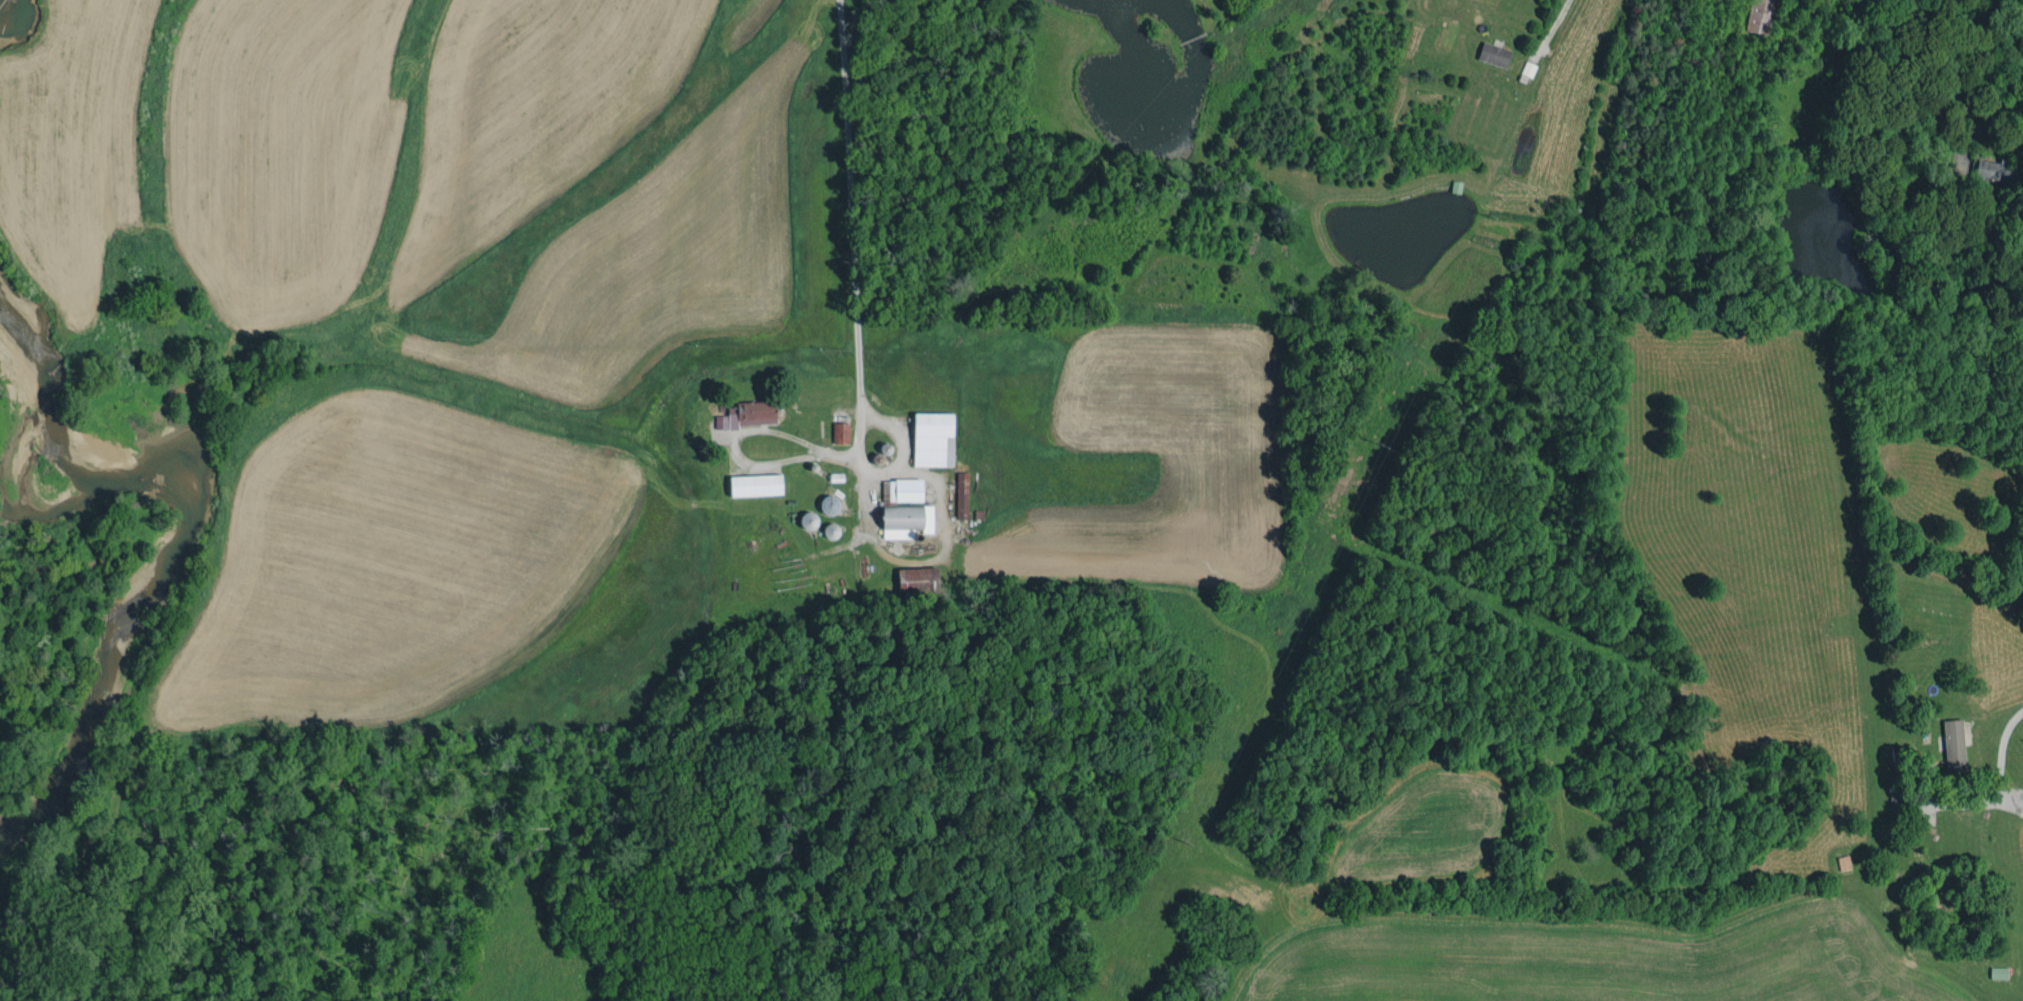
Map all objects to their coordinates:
river: (0, 0)
building: (1759, 16)
road: (1550, 24)
building: (1494, 54)
road: (1978, 69)
building: (1995, 170)
road: (849, 241)
building: (746, 415)
road: (746, 432)
building: (841, 433)
building: (933, 439)
building: (755, 485)
building: (902, 490)
building: (962, 495)
building: (828, 505)
river: (181, 513)
building: (905, 520)
building: (917, 579)
building: (1955, 744)
road: (2004, 783)

